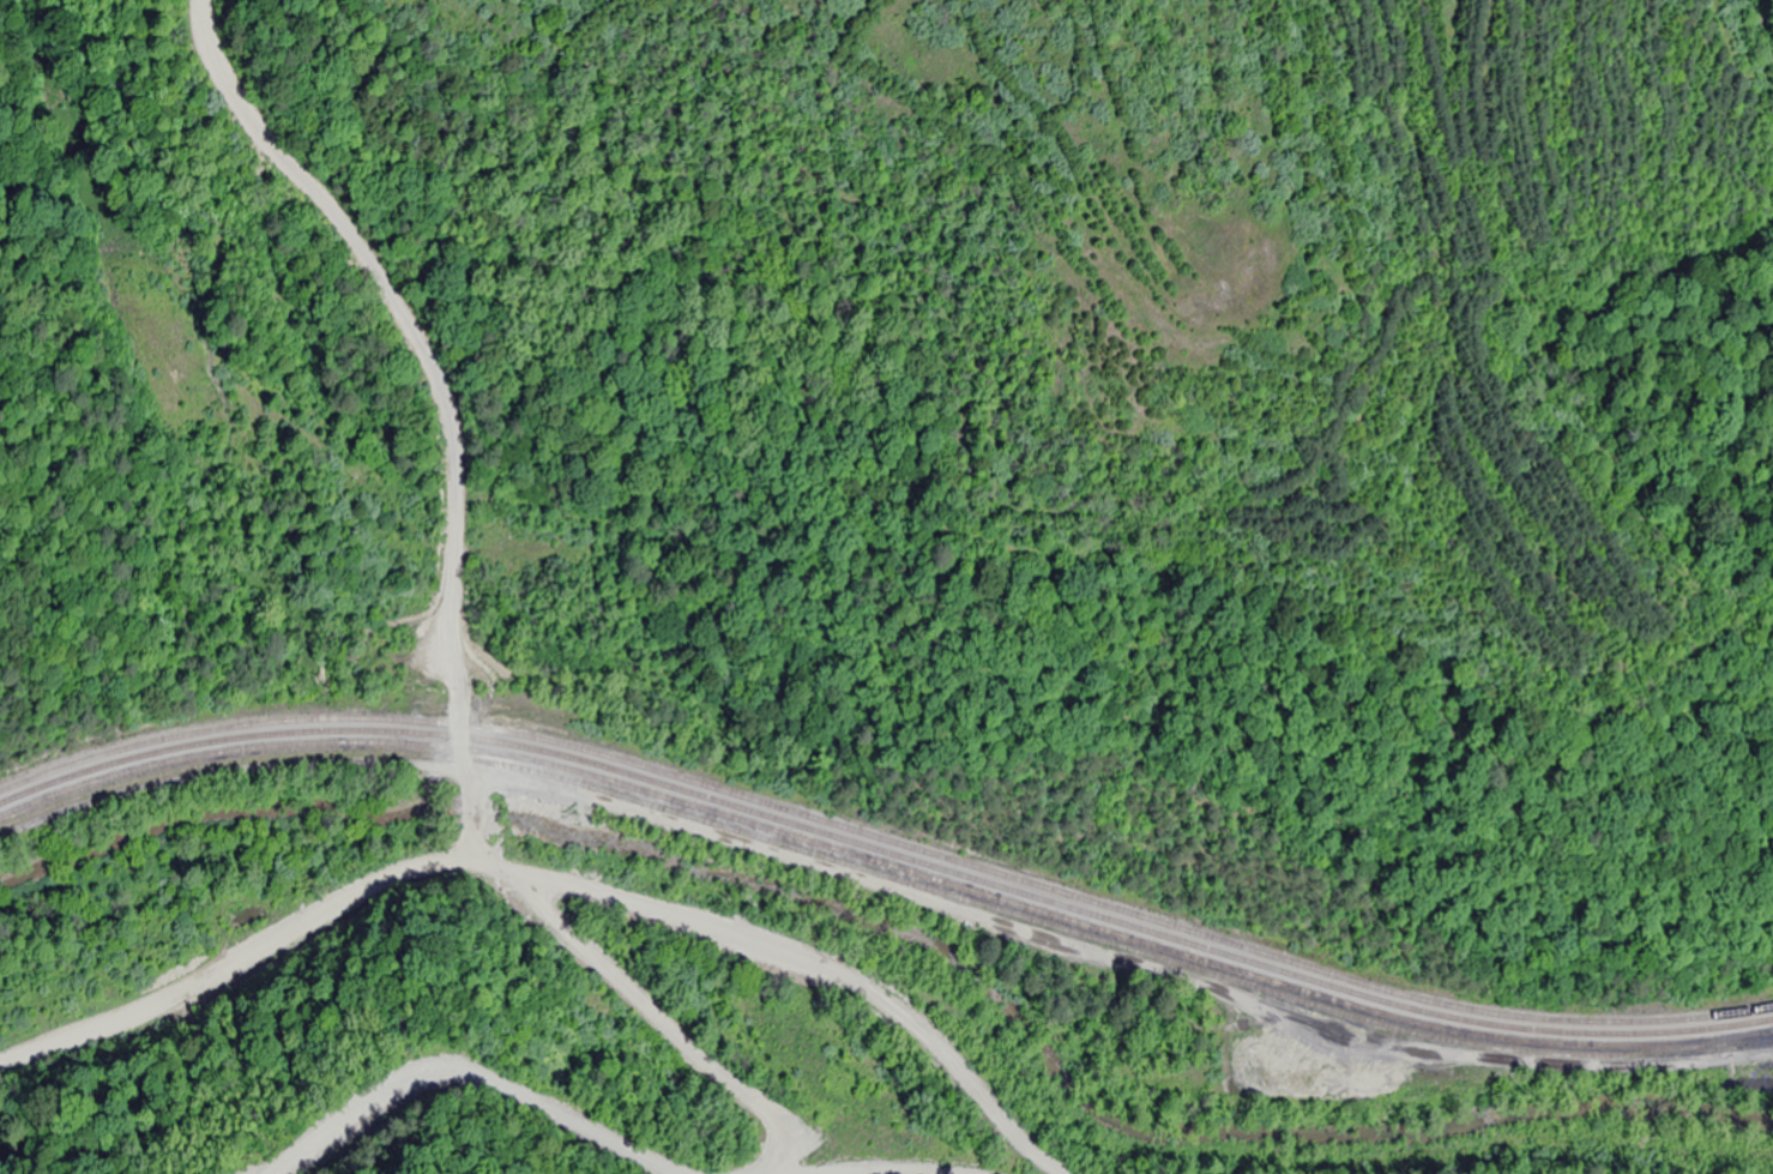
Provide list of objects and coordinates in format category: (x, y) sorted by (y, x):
road: (441, 407)
railway: (885, 851)
road: (550, 879)
road: (621, 1130)

